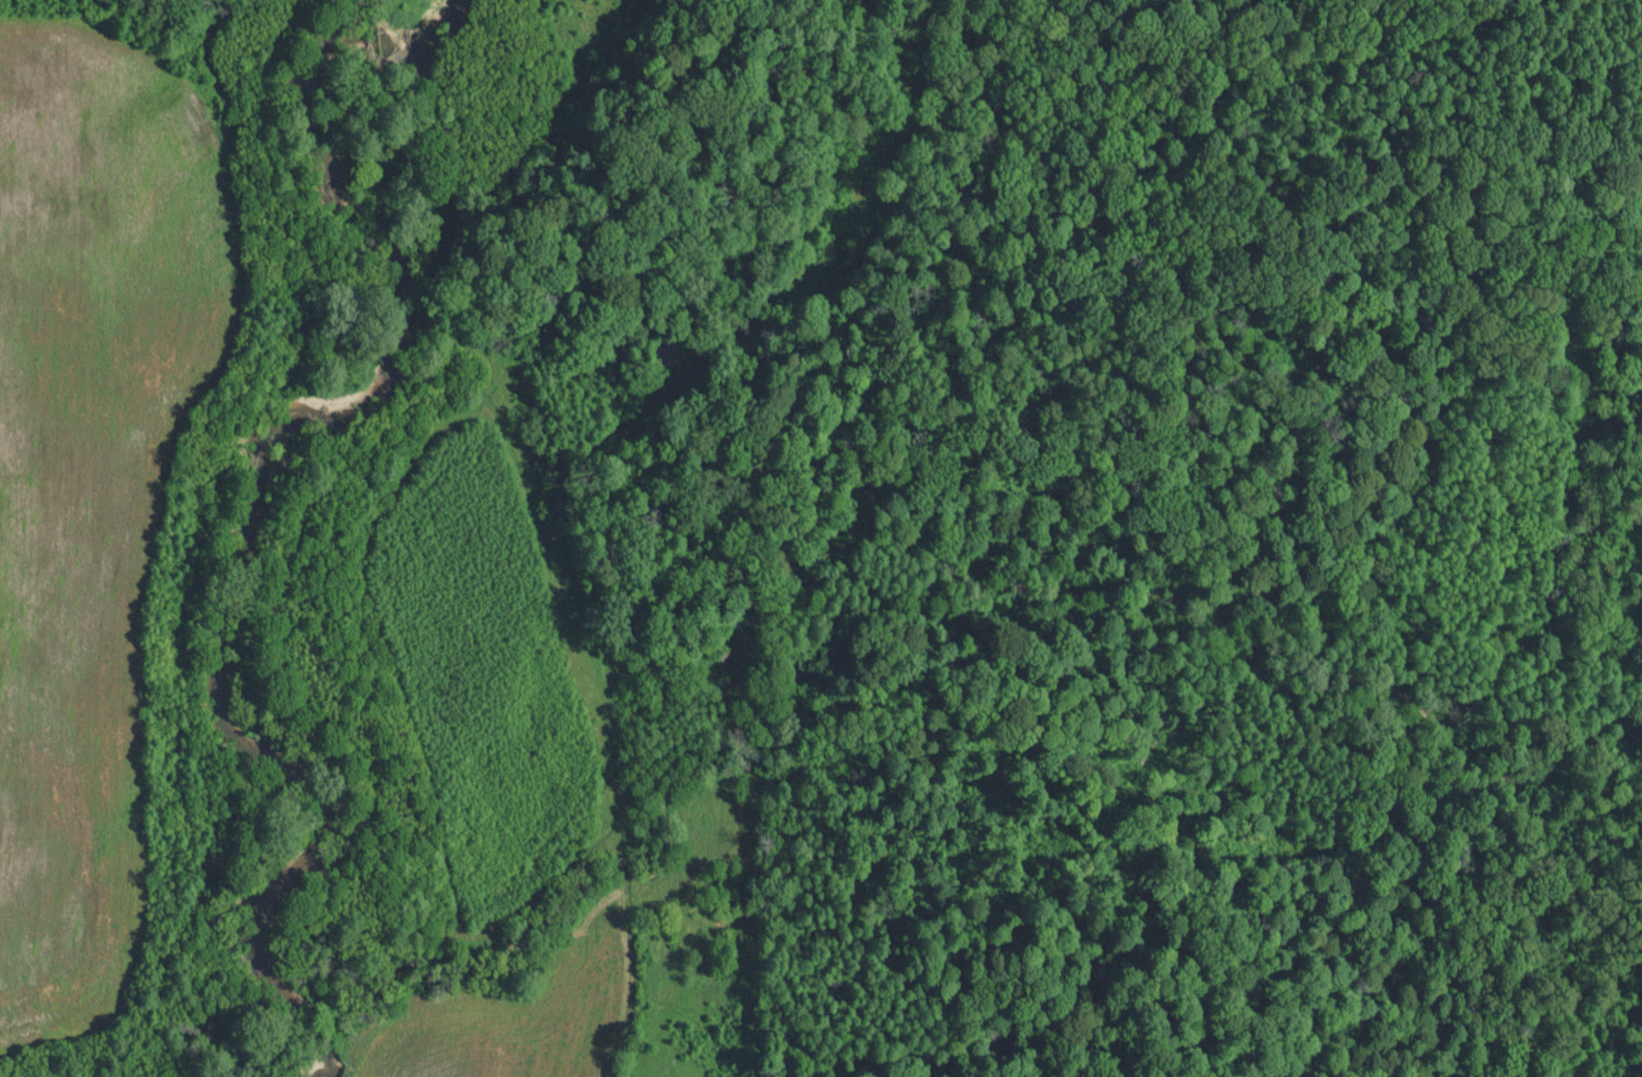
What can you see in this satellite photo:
road: (627, 946)

